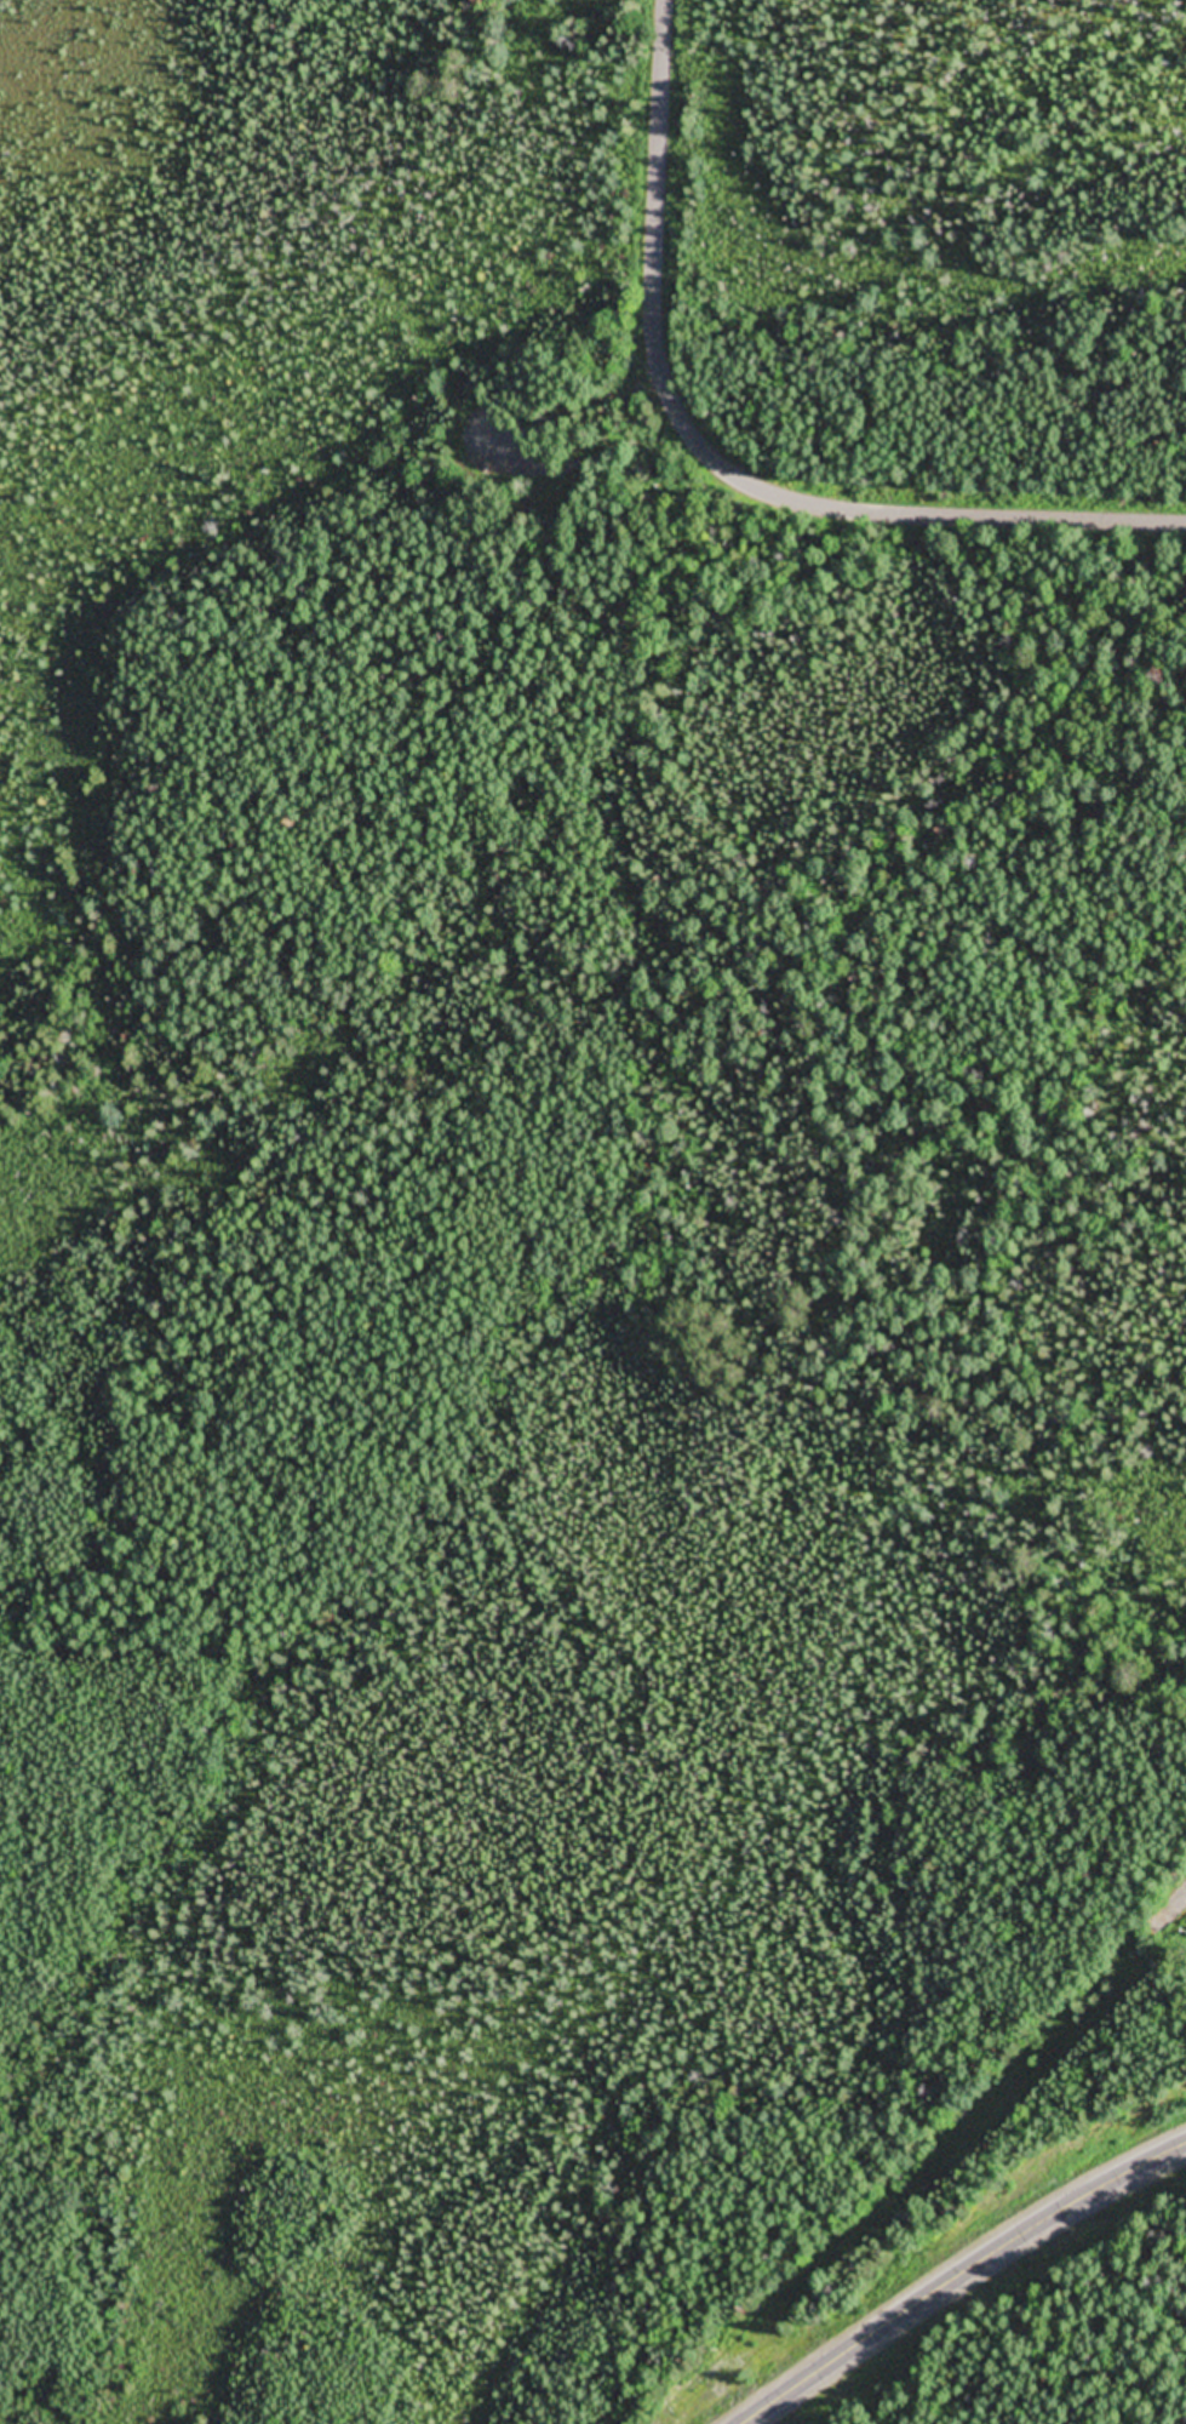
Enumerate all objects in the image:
road: (717, 459)
road: (1173, 1903)
road: (959, 2275)

